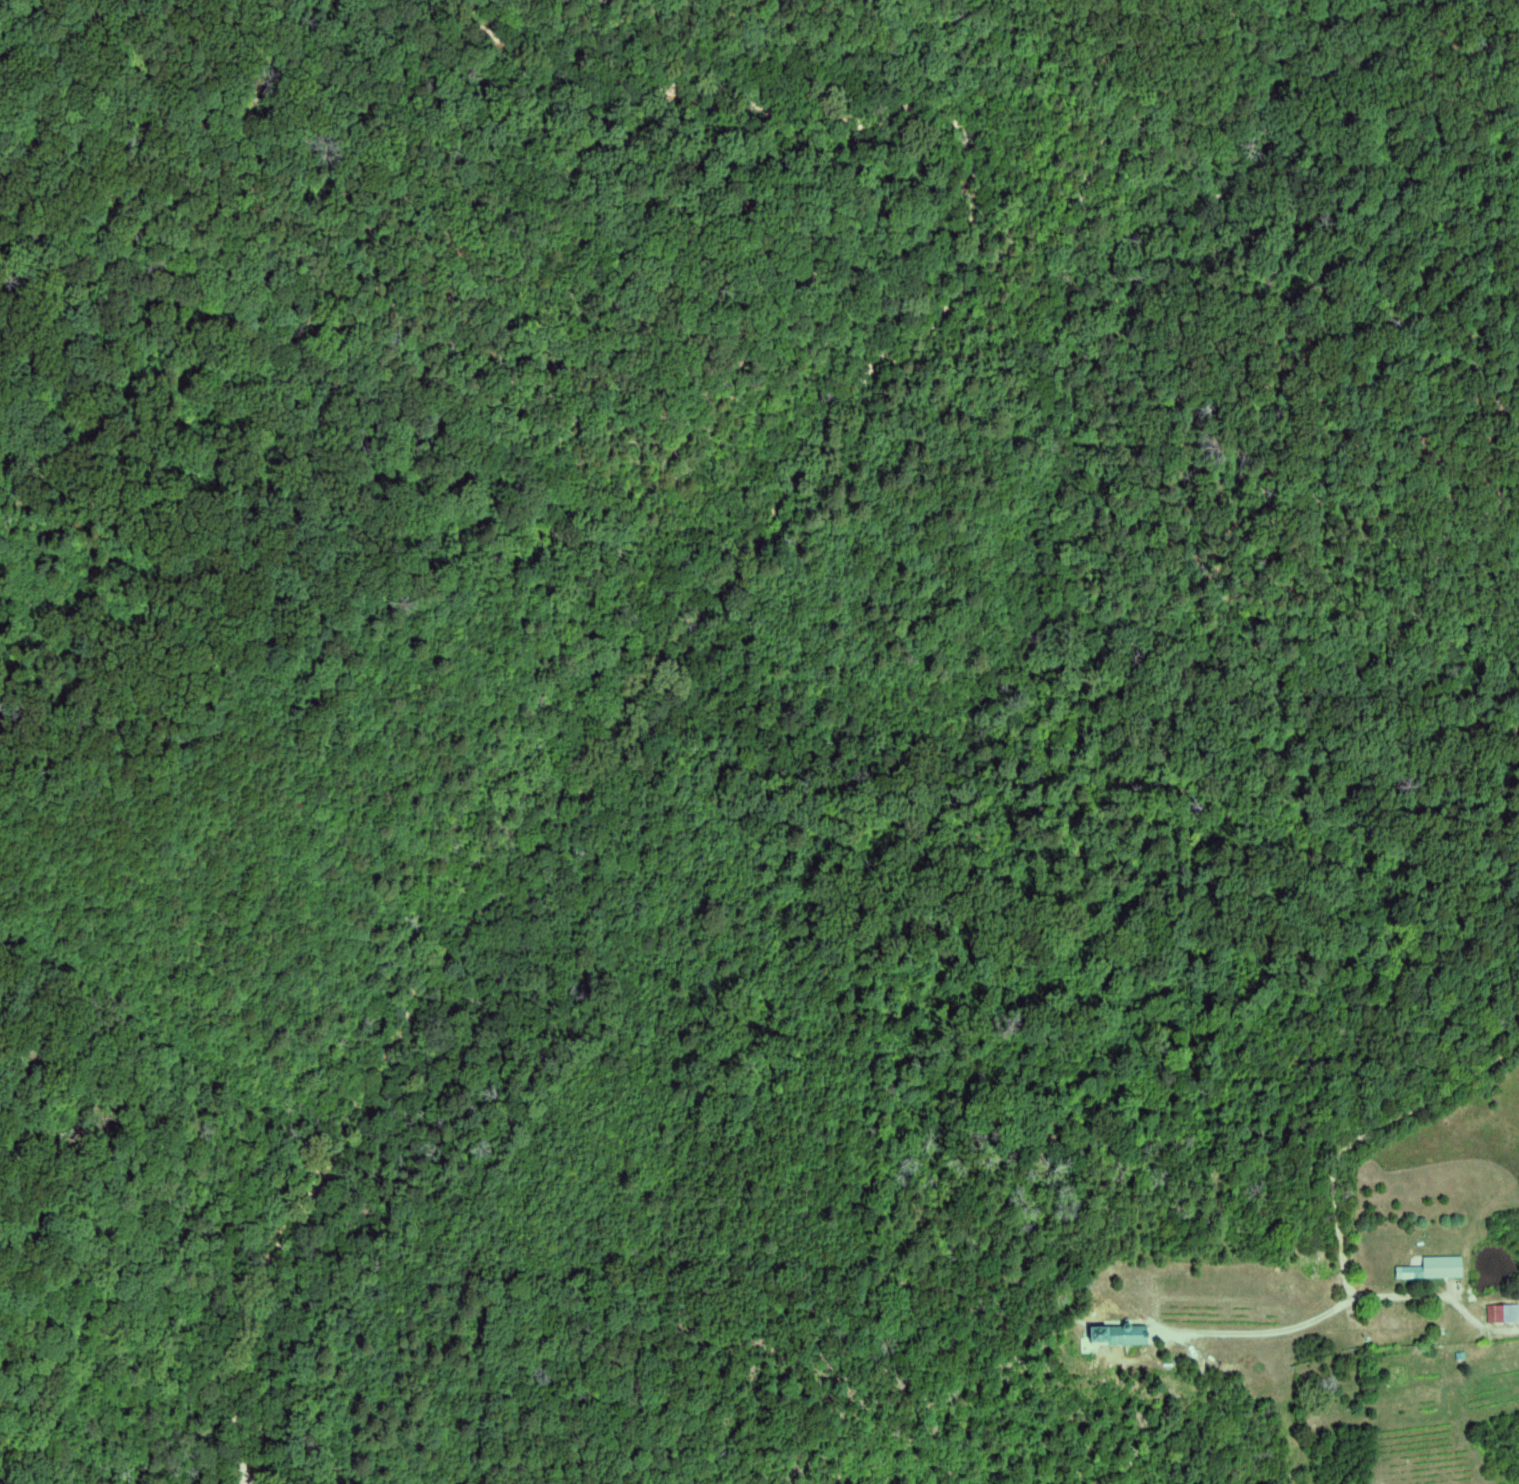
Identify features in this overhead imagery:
road: (1401, 1119)

